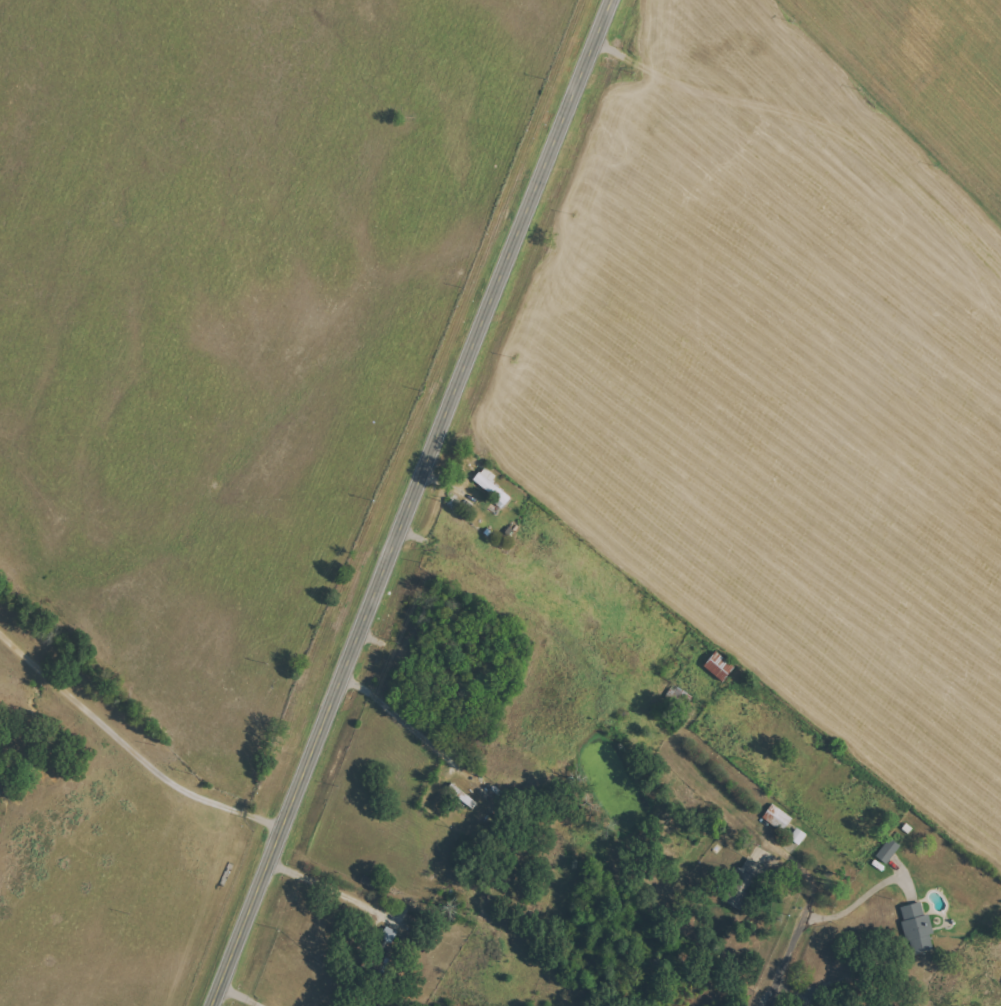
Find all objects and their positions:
road: (412, 502)
building: (719, 666)
road: (403, 720)
road: (130, 747)
building: (777, 817)
building: (888, 850)
road: (325, 886)
road: (865, 896)
building: (918, 927)
road: (794, 944)
road: (787, 994)
road: (241, 995)

